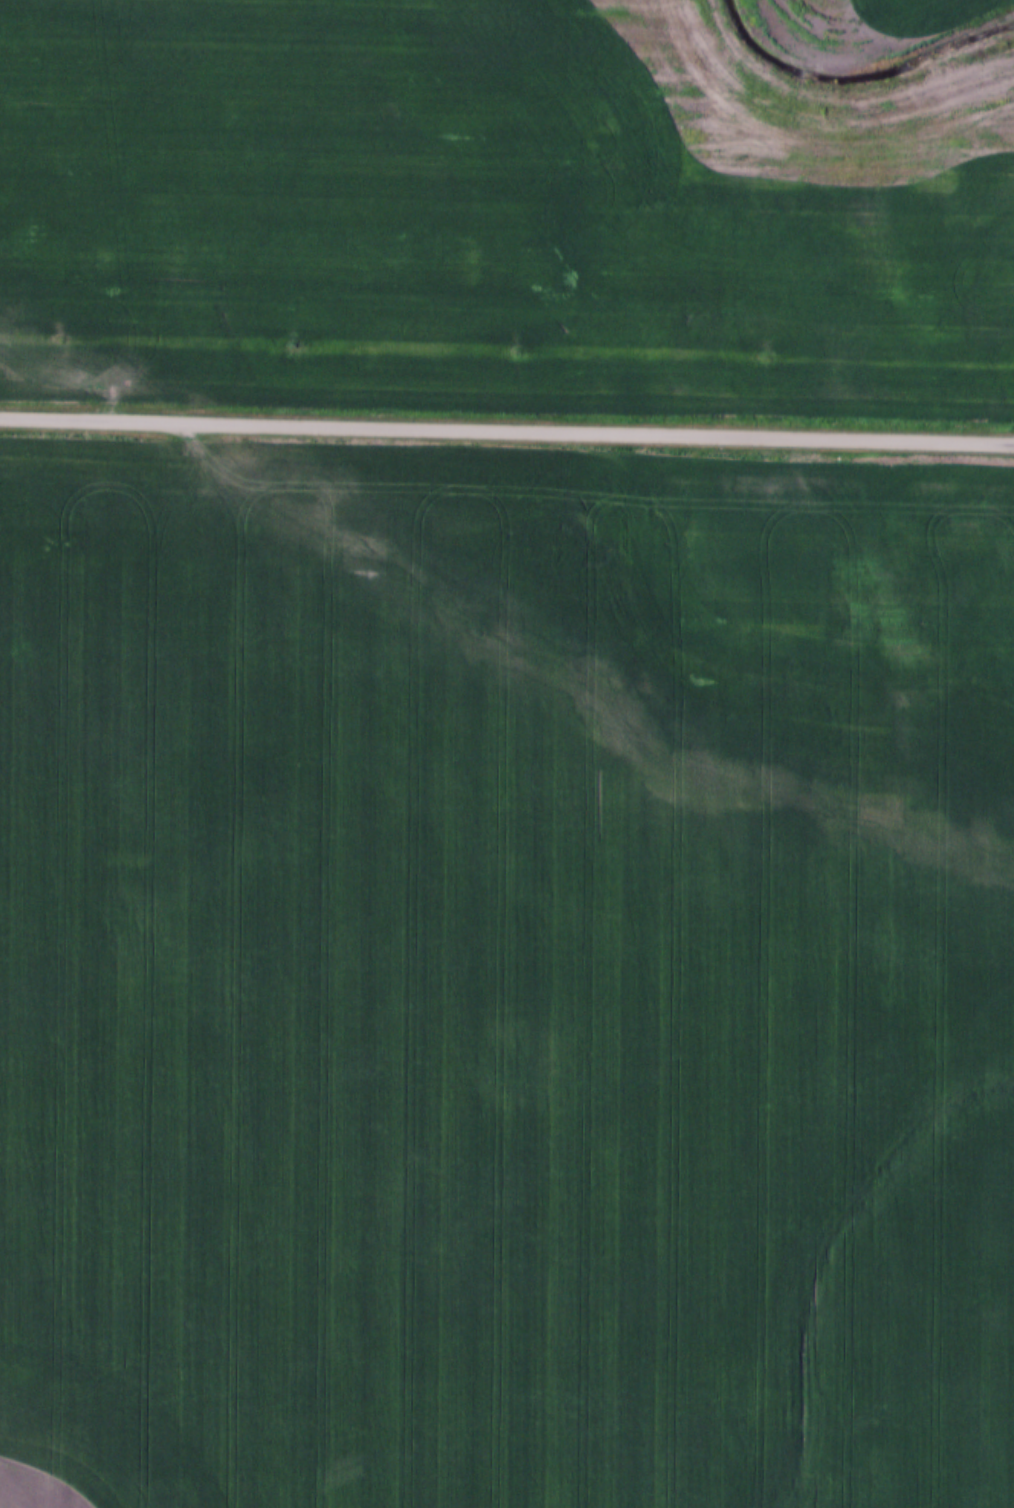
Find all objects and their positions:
road: (506, 428)

